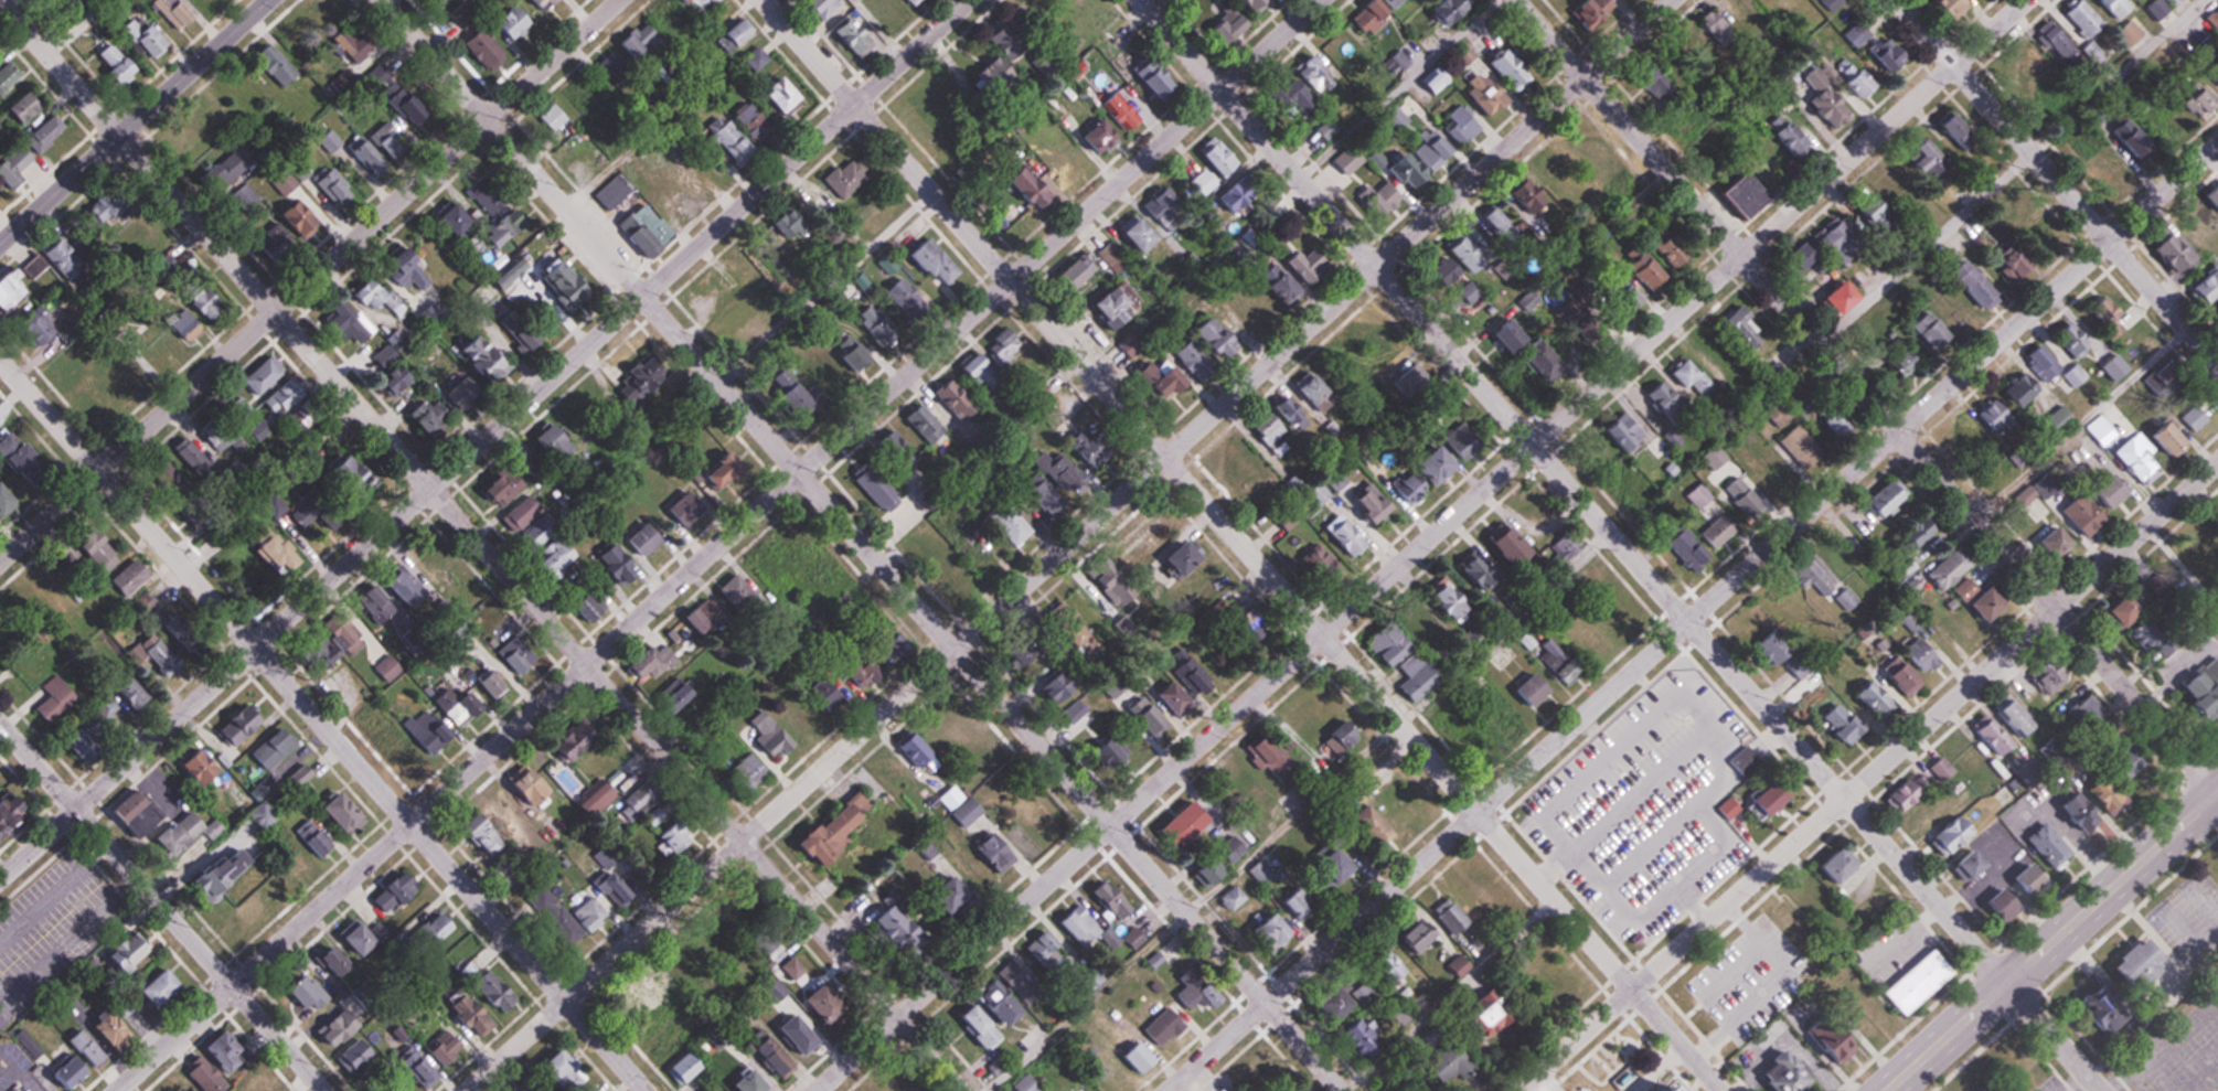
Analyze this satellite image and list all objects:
building: (2188, 0)
building: (214, 1)
building: (702, 1)
building: (1246, 1)
building: (916, 2)
building: (1386, 2)
building: (547, 4)
building: (823, 4)
building: (2157, 6)
building: (1947, 7)
building: (2110, 7)
building: (1439, 9)
building: (1583, 9)
building: (179, 12)
building: (322, 15)
building: (1363, 17)
building: (2077, 17)
building: (2211, 17)
building: (514, 20)
building: (1241, 23)
building: (743, 31)
building: (2125, 32)
building: (1704, 34)
building: (148, 38)
building: (855, 38)
building: (642, 41)
building: (2050, 41)
building: (486, 44)
building: (1345, 44)
building: (1880, 54)
building: (759, 58)
building: (119, 64)
building: (279, 65)
building: (616, 65)
building: (1503, 65)
building: (2011, 69)
building: (1642, 76)
building: (8, 77)
building: (1307, 77)
building: (1849, 77)
building: (1159, 79)
building: (1427, 82)
building: (583, 93)
building: (1478, 93)
building: (789, 98)
building: (2194, 99)
building: (1820, 100)
building: (26, 106)
building: (555, 117)
building: (1116, 120)
building: (759, 122)
road: (136, 124)
building: (200, 125)
building: (1454, 125)
building: (1943, 126)
building: (1327, 129)
building: (49, 133)
building: (1783, 136)
building: (332, 141)
building: (738, 145)
building: (1577, 148)
building: (1751, 154)
building: (1222, 156)
building: (1351, 158)
building: (1918, 158)
building: (1411, 163)
building: (20, 167)
building: (2097, 167)
building: (1549, 171)
building: (847, 178)
building: (287, 182)
road: (2058, 182)
building: (616, 192)
building: (1244, 194)
building: (1734, 194)
building: (1521, 195)
building: (684, 196)
building: (1387, 196)
building: (490, 200)
building: (108, 206)
building: (1170, 208)
building: (1867, 213)
building: (883, 214)
building: (460, 220)
building: (1494, 225)
building: (1144, 233)
building: (1830, 236)
building: (132, 237)
building: (2044, 237)
building: (282, 242)
building: (2165, 250)
building: (1110, 254)
building: (1790, 256)
building: (67, 258)
building: (2004, 258)
building: (939, 260)
building: (1313, 261)
building: (1636, 268)
building: (514, 269)
building: (413, 270)
road: (309, 279)
building: (1968, 285)
building: (2203, 285)
building: (1290, 287)
building: (17, 289)
building: (1619, 295)
building: (577, 296)
building: (381, 297)
building: (1831, 297)
building: (211, 302)
building: (1943, 304)
building: (1121, 306)
building: (2098, 310)
building: (344, 320)
building: (44, 324)
building: (1923, 329)
building: (1581, 330)
building: (1737, 332)
building: (1217, 333)
building: (2066, 338)
building: (2134, 341)
building: (1383, 342)
building: (490, 359)
building: (1196, 360)
building: (2036, 362)
building: (982, 365)
building: (1894, 366)
building: (2070, 375)
building: (1685, 376)
building: (264, 377)
building: (2014, 389)
building: (1321, 392)
building: (285, 395)
road: (1866, 397)
building: (1663, 415)
building: (1776, 415)
building: (1983, 415)
building: (2189, 417)
building: (301, 420)
building: (2051, 423)
building: (1273, 428)
building: (1833, 430)
building: (2094, 430)
building: (1615, 432)
building: (552, 437)
building: (2155, 437)
road: (484, 439)
building: (1795, 447)
building: (1585, 451)
building: (24, 456)
building: (2129, 461)
building: (1761, 463)
building: (361, 467)
building: (1067, 473)
building: (1337, 481)
building: (508, 488)
building: (1623, 488)
building: (2099, 492)
building: (1321, 493)
building: (1695, 495)
building: (1737, 495)
building: (1879, 496)
building: (2018, 496)
building: (7, 501)
building: (323, 505)
building: (2075, 515)
building: (533, 521)
building: (1909, 532)
building: (1153, 534)
building: (1347, 537)
road: (1068, 544)
road: (1420, 544)
building: (2045, 544)
road: (481, 545)
road: (719, 545)
road: (862, 545)
road: (1240, 545)
road: (1621, 545)
building: (1518, 546)
building: (640, 549)
building: (1682, 549)
building: (1557, 550)
building: (105, 553)
building: (285, 553)
building: (2199, 556)
building: (564, 558)
building: (1186, 560)
building: (438, 567)
building: (1312, 568)
building: (1942, 568)
building: (1899, 569)
building: (821, 571)
building: (1804, 576)
building: (134, 577)
building: (1580, 577)
building: (412, 586)
building: (1971, 599)
building: (1772, 601)
building: (18, 605)
building: (594, 607)
building: (2115, 611)
road: (1694, 618)
building: (1608, 623)
building: (697, 628)
building: (1576, 641)
building: (338, 642)
building: (1763, 648)
building: (1913, 654)
building: (161, 655)
building: (521, 656)
building: (651, 662)
building: (1792, 667)
building: (2043, 674)
building: (1892, 677)
building: (1544, 684)
building: (493, 687)
building: (832, 695)
building: (2194, 695)
building: (1177, 697)
building: (1865, 698)
building: (58, 703)
building: (105, 707)
building: (455, 708)
building: (1512, 715)
building: (2008, 716)
building: (1832, 723)
road: (322, 724)
building: (1985, 734)
building: (580, 739)
building: (93, 740)
building: (1476, 745)
building: (397, 747)
building: (919, 752)
building: (2113, 767)
building: (206, 768)
building: (753, 769)
road: (1868, 777)
building: (536, 788)
building: (1901, 791)
building: (2094, 791)
building: (642, 793)
building: (1405, 795)
building: (603, 798)
building: (1757, 800)
building: (962, 805)
building: (7, 812)
building: (1922, 812)
building: (2067, 812)
building: (142, 813)
building: (1194, 821)
building: (849, 823)
building: (189, 833)
building: (675, 835)
building: (1943, 835)
building: (490, 839)
building: (2041, 844)
building: (311, 845)
building: (1827, 864)
building: (1960, 864)
building: (231, 874)
building: (2016, 880)
building: (1860, 898)
road: (162, 906)
building: (1992, 907)
building: (255, 912)
building: (591, 914)
building: (556, 917)
building: (1452, 917)
building: (1281, 930)
building: (1090, 931)
building: (1426, 935)
road: (2052, 941)
building: (134, 951)
building: (1049, 952)
building: (2128, 965)
building: (1393, 976)
building: (1909, 981)
building: (166, 988)
building: (649, 993)
building: (1014, 994)
building: (1354, 999)
building: (1492, 1008)
building: (2090, 1010)
building: (1855, 1014)
building: (0, 1016)
building: (0, 1019)
building: (984, 1027)
building: (1167, 1027)
building: (118, 1029)
building: (807, 1036)
building: (1363, 1038)
building: (1824, 1048)
building: (233, 1056)
building: (778, 1058)
building: (1455, 1059)
building: (82, 1061)
building: (1776, 1073)
building: (749, 1079)
building: (264, 1085)
building: (49, 1088)

